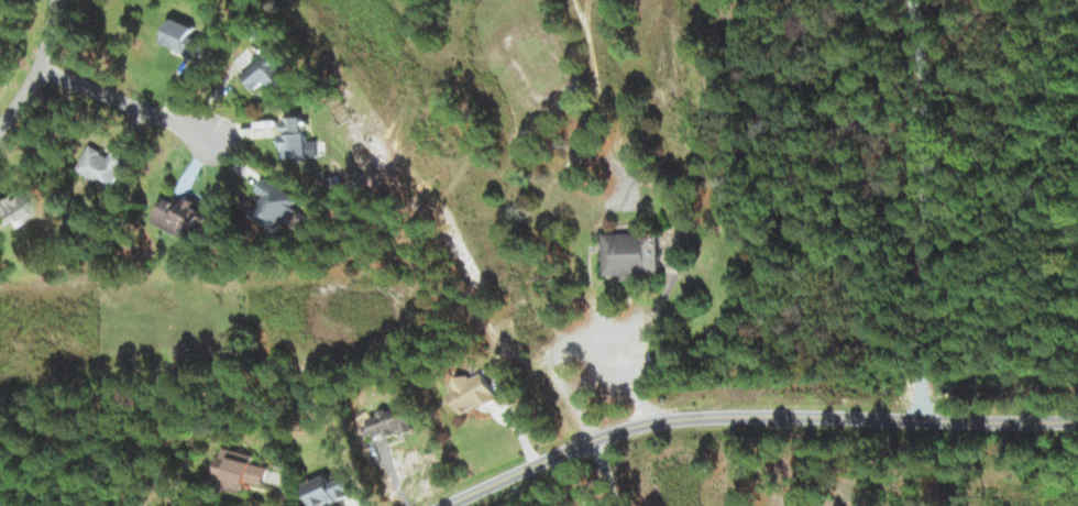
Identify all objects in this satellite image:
building: (180, 40)
road: (40, 69)
building: (261, 70)
road: (128, 103)
building: (296, 140)
building: (100, 166)
building: (10, 207)
building: (273, 207)
building: (177, 217)
park: (488, 239)
building: (627, 254)
building: (470, 392)
road: (749, 415)
building: (238, 469)
park: (1038, 487)
building: (326, 488)

